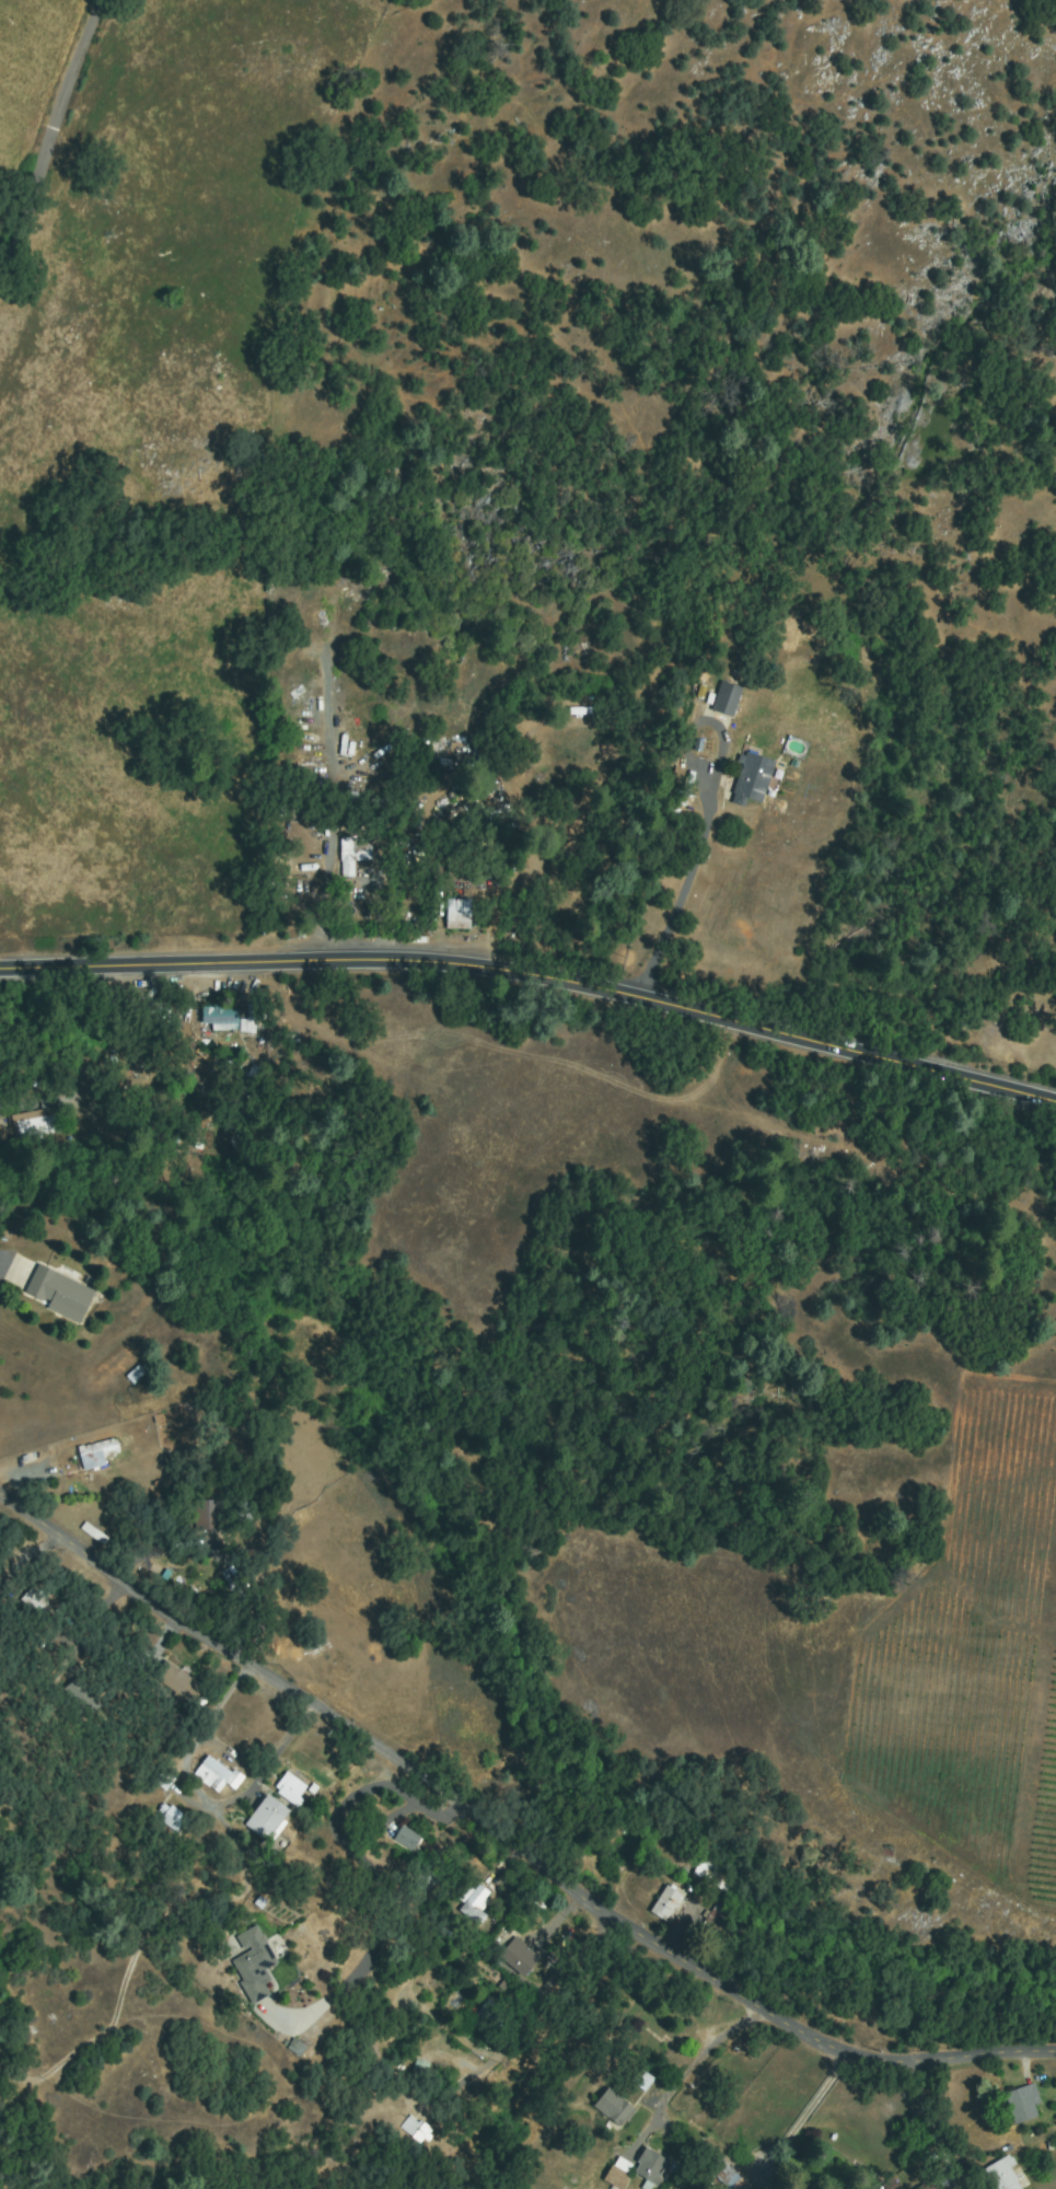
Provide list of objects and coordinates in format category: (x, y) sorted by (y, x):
road: (53, 126)
building: (699, 692)
building: (727, 698)
building: (279, 710)
building: (588, 711)
building: (280, 752)
building: (307, 771)
building: (680, 777)
building: (752, 778)
building: (316, 780)
building: (286, 800)
building: (374, 801)
building: (383, 822)
building: (361, 827)
building: (403, 829)
building: (450, 848)
building: (353, 855)
building: (465, 867)
road: (681, 885)
building: (457, 914)
road: (535, 980)
building: (155, 1010)
building: (221, 1018)
building: (251, 1018)
building: (32, 1125)
building: (60, 1294)
building: (136, 1375)
building: (100, 1452)
building: (244, 1508)
building: (209, 1515)
building: (120, 1545)
building: (37, 1602)
building: (34, 1635)
building: (178, 1683)
building: (82, 1700)
building: (214, 1774)
building: (291, 1790)
building: (176, 1820)
building: (267, 1820)
building: (404, 1838)
road: (508, 1841)
building: (428, 1876)
building: (712, 1879)
building: (474, 1903)
building: (666, 1903)
building: (716, 1921)
building: (554, 1956)
building: (519, 1957)
building: (253, 1965)
building: (491, 2018)
building: (295, 2047)
building: (752, 2055)
building: (418, 2072)
building: (641, 2081)
building: (1022, 2105)
building: (613, 2110)
road: (908, 2124)
building: (416, 2130)
building: (651, 2168)
building: (618, 2175)
building: (1003, 2175)
building: (732, 2184)
building: (890, 2186)
building: (931, 2186)

